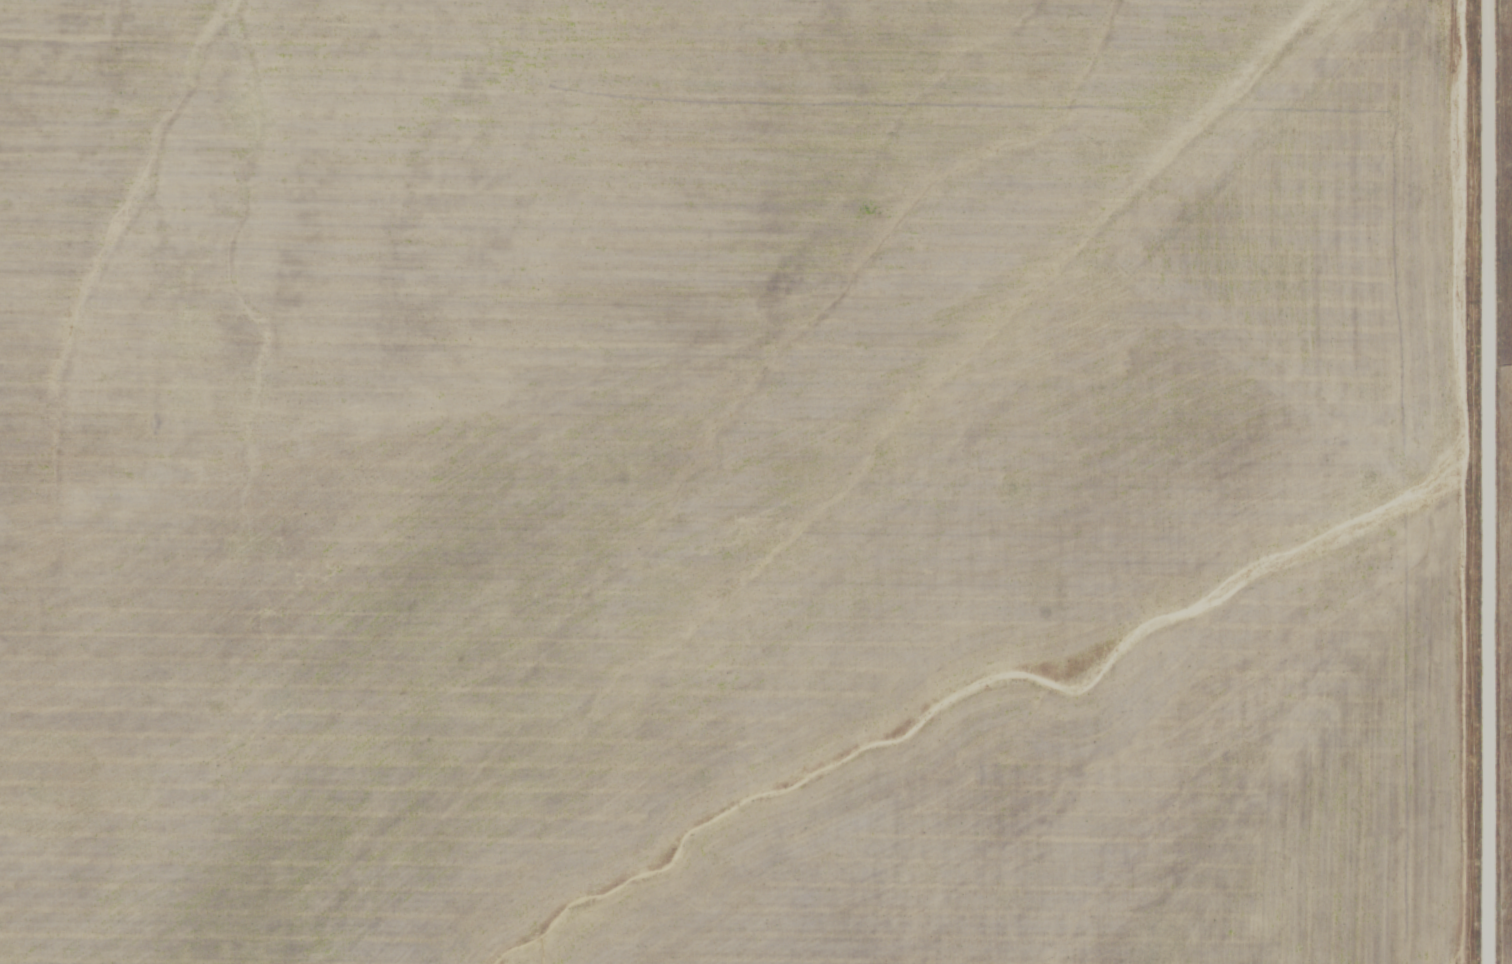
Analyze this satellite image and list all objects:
road: (1485, 481)

